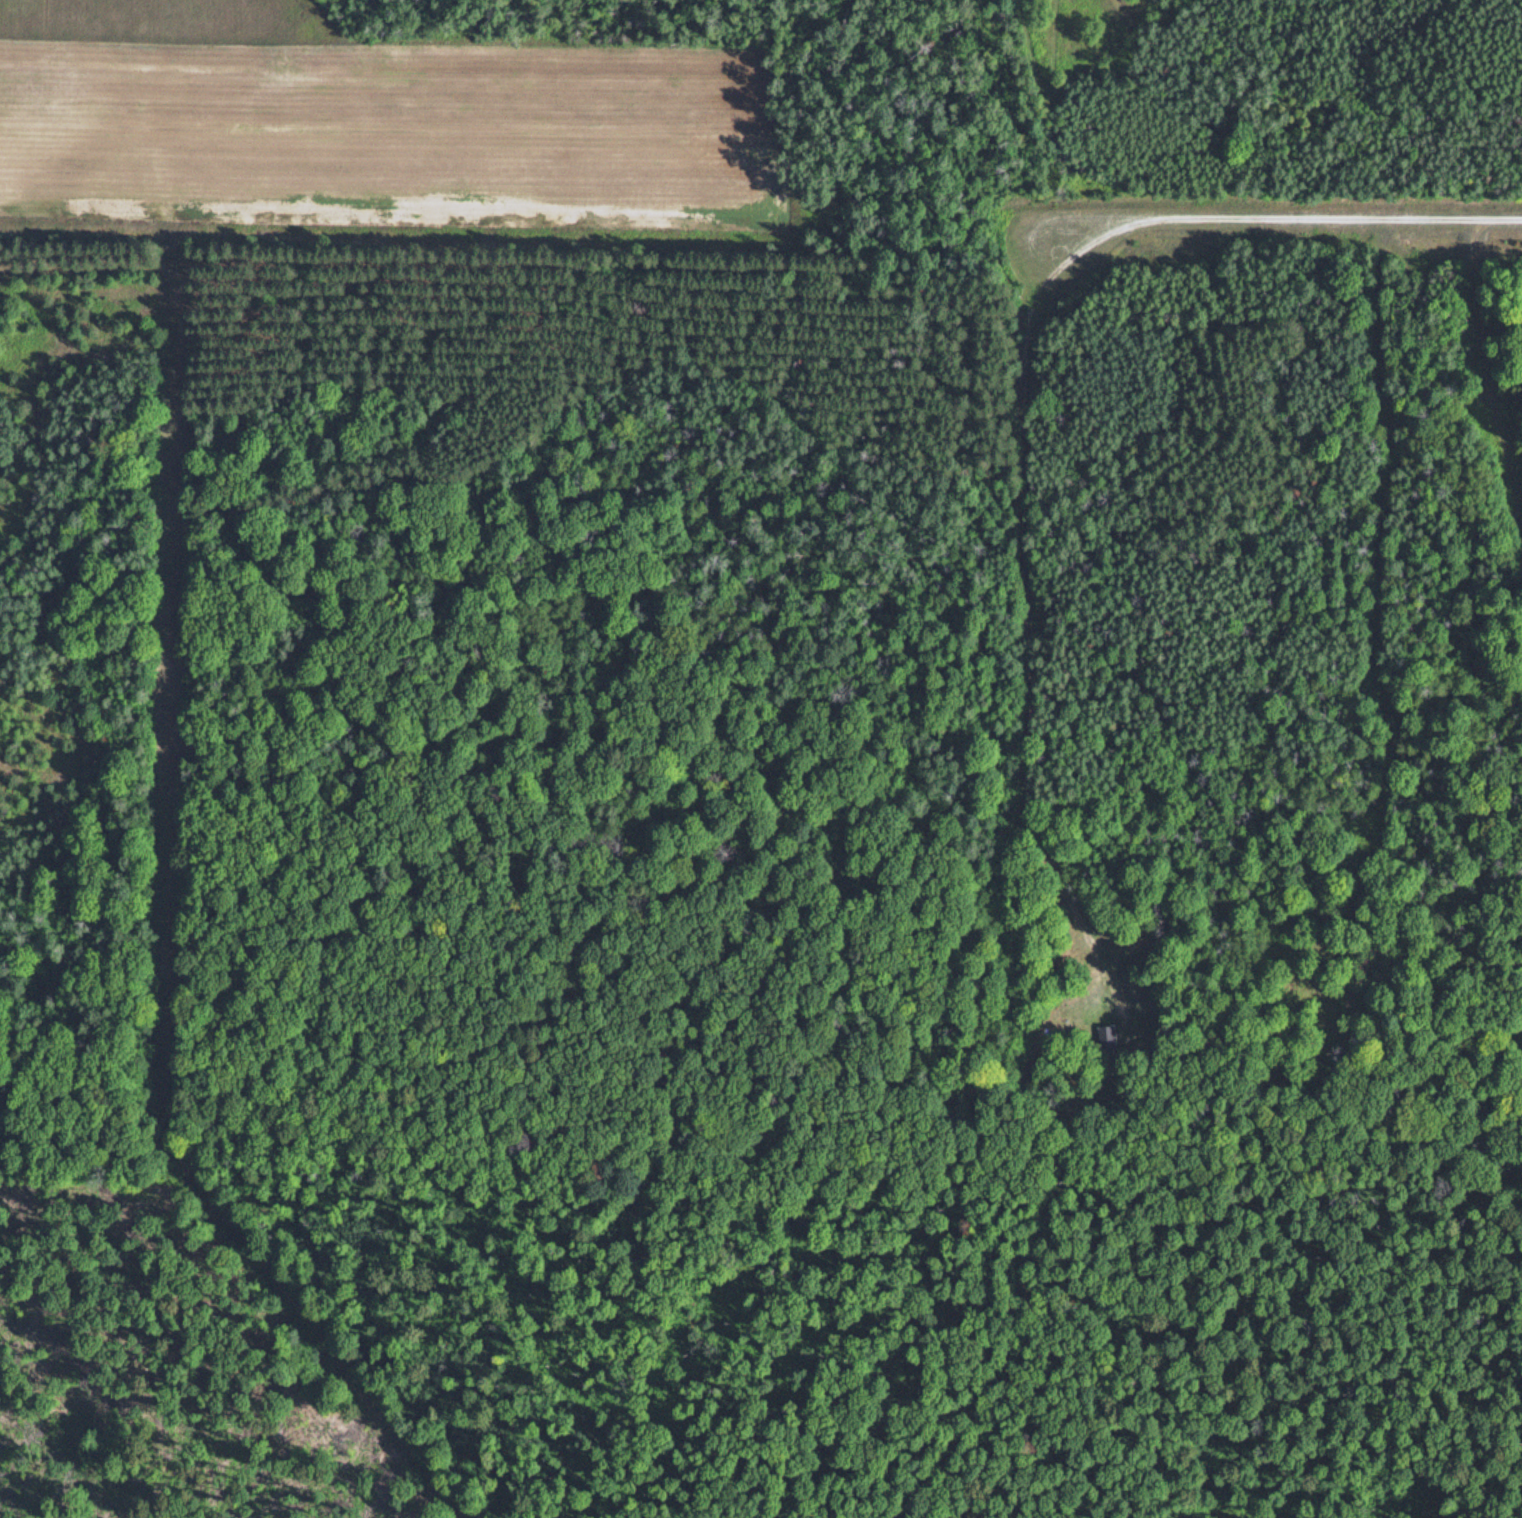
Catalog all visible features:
road: (1024, 373)
building: (1108, 1035)
road: (381, 1409)
road: (1065, 1452)

